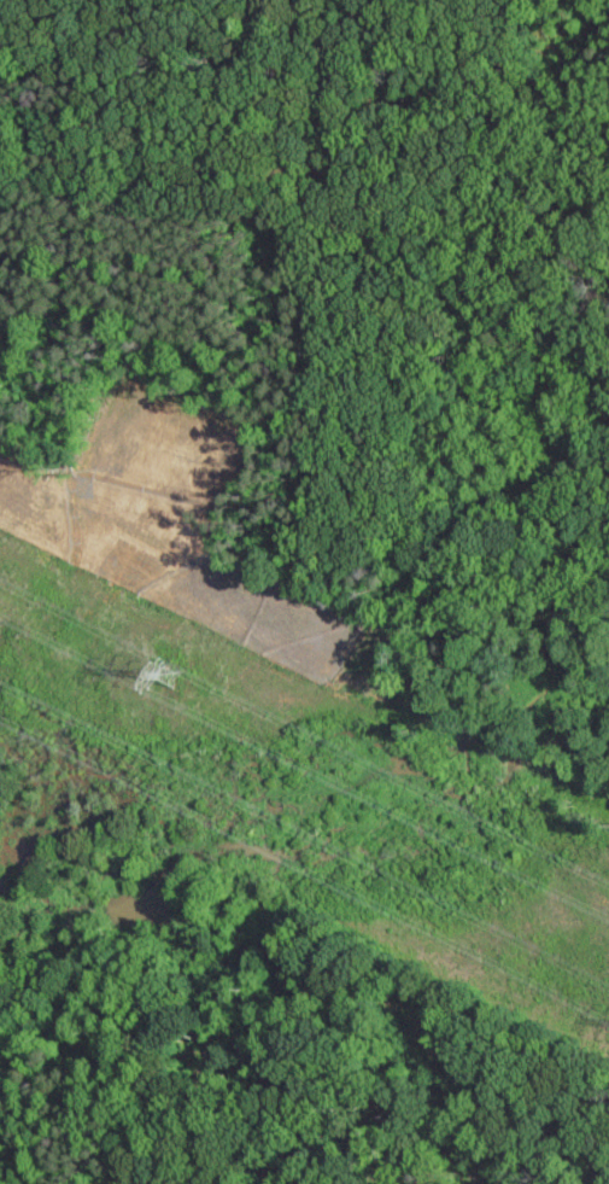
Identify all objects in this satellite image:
power tower: (168, 678)

